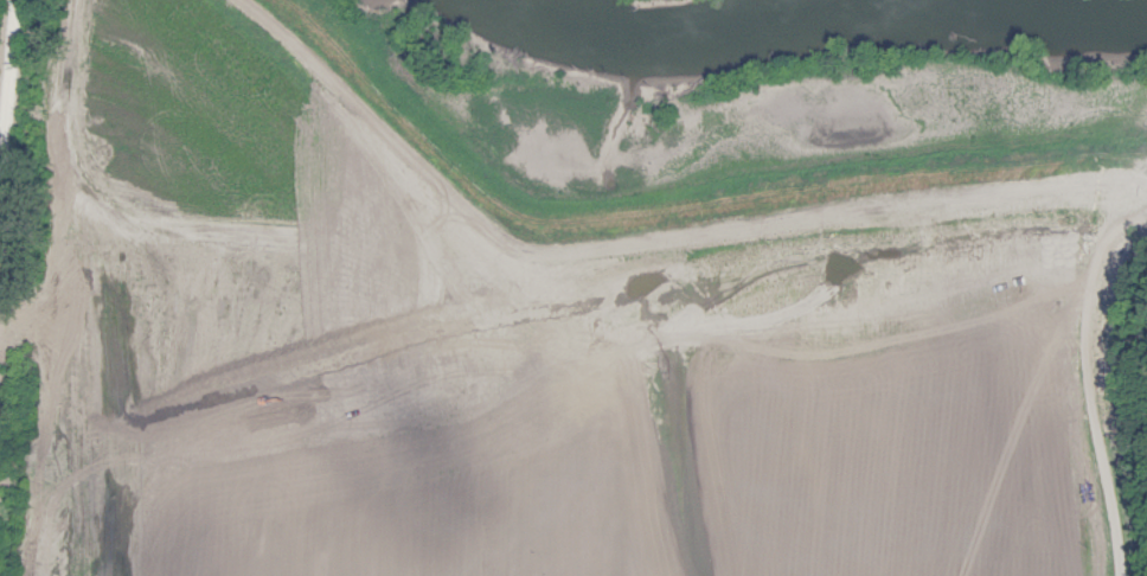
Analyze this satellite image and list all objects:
road: (7, 92)
road: (519, 245)
road: (1087, 379)

